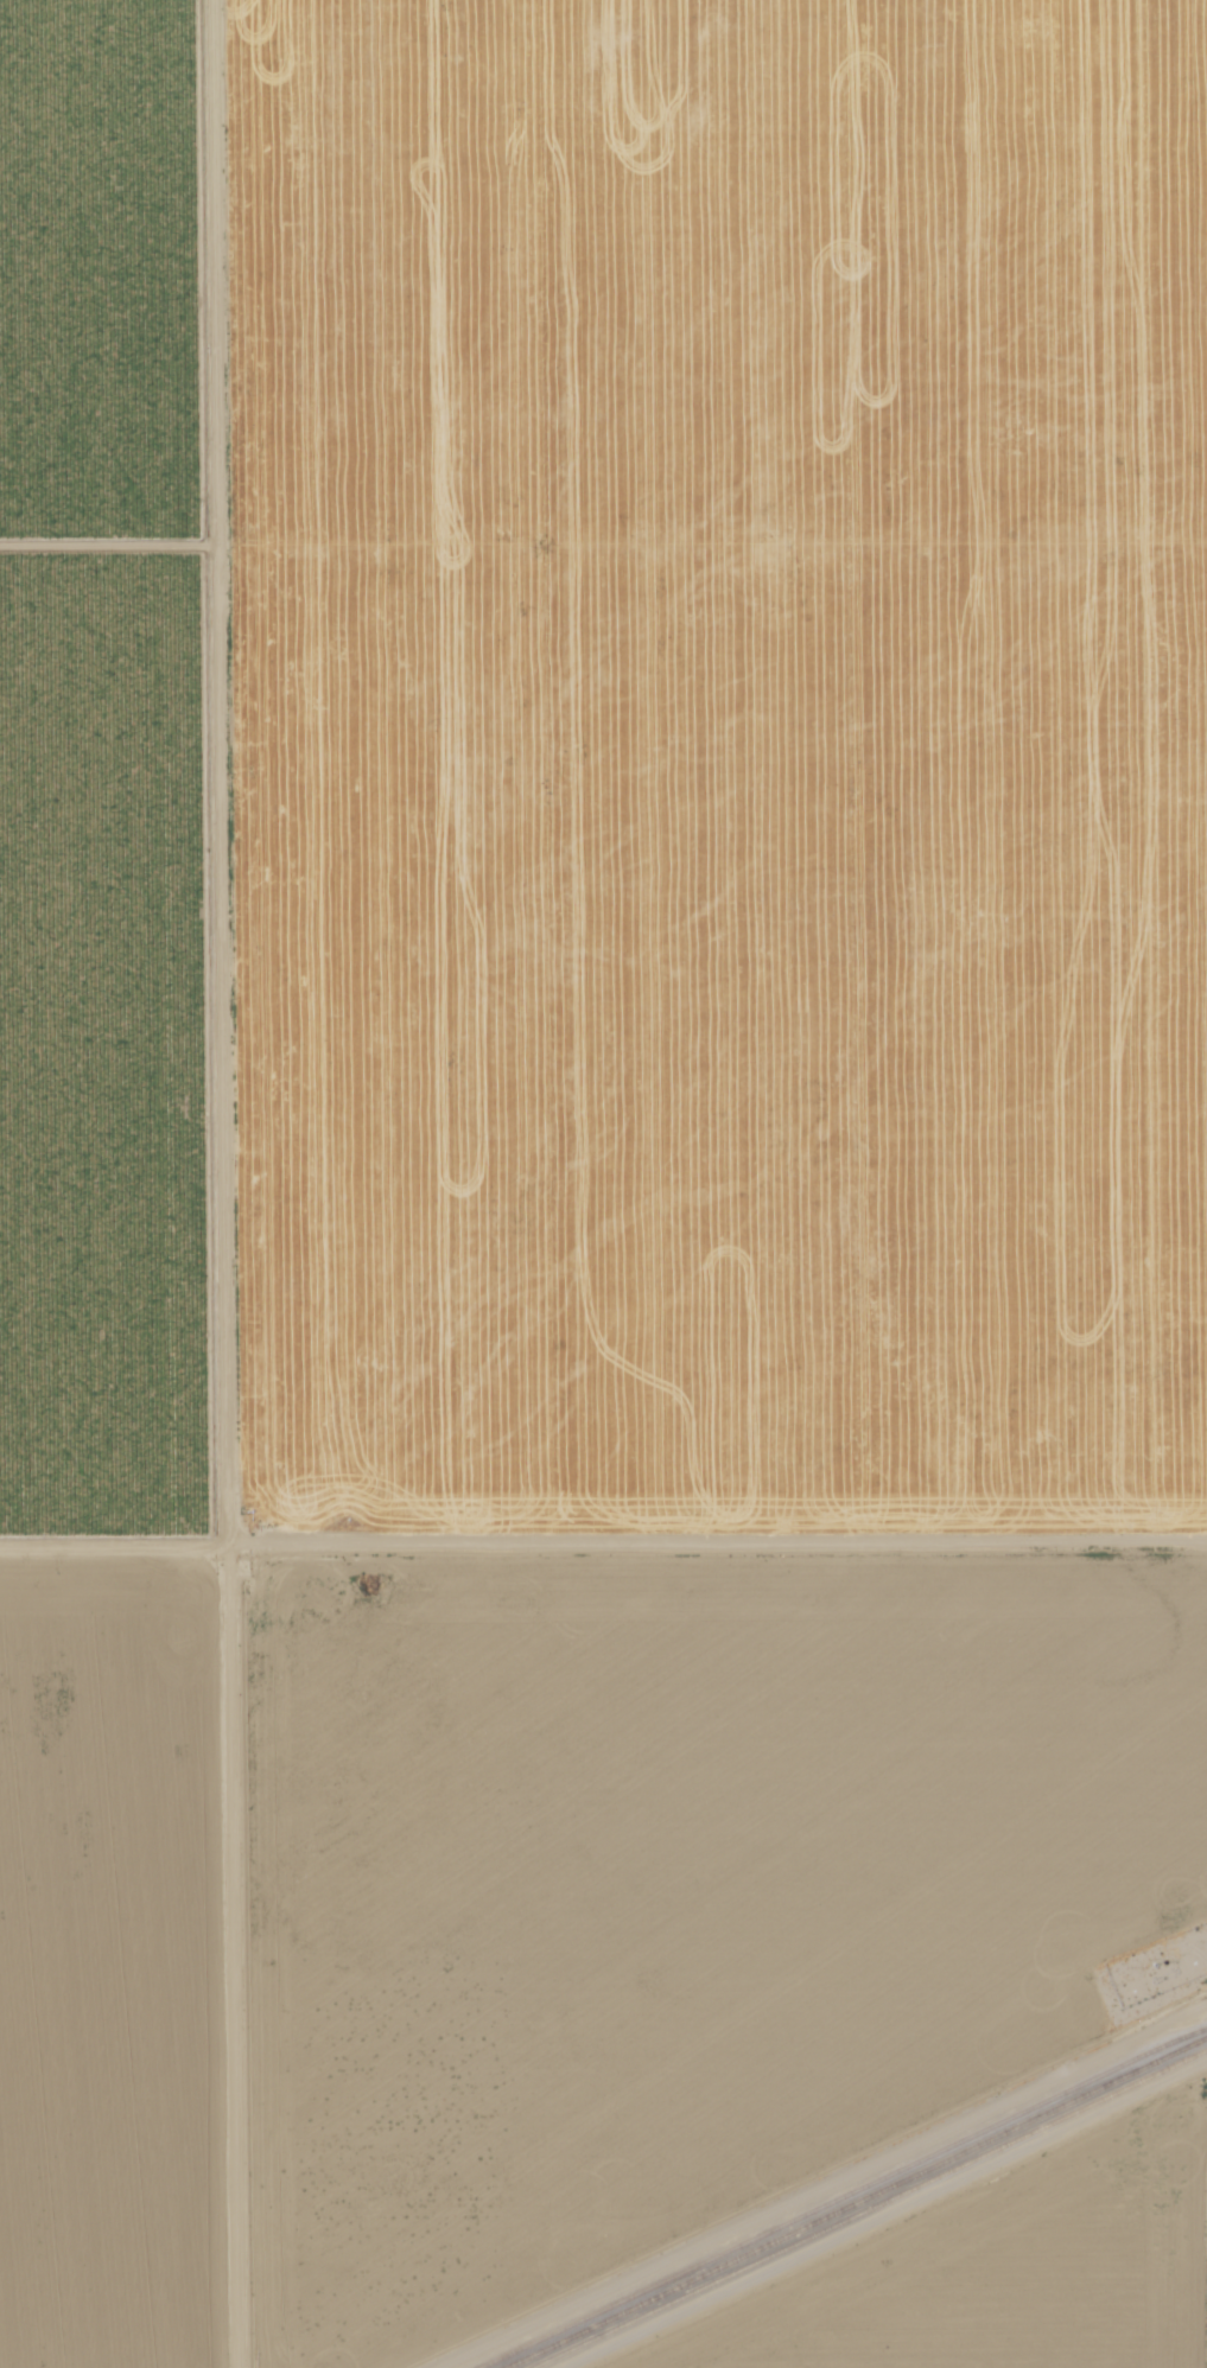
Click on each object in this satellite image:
road: (218, 757)
crop: (585, 1131)
road: (249, 1941)
railway: (844, 2196)
railway: (856, 2202)
railway: (870, 2209)
crop: (1010, 2273)

